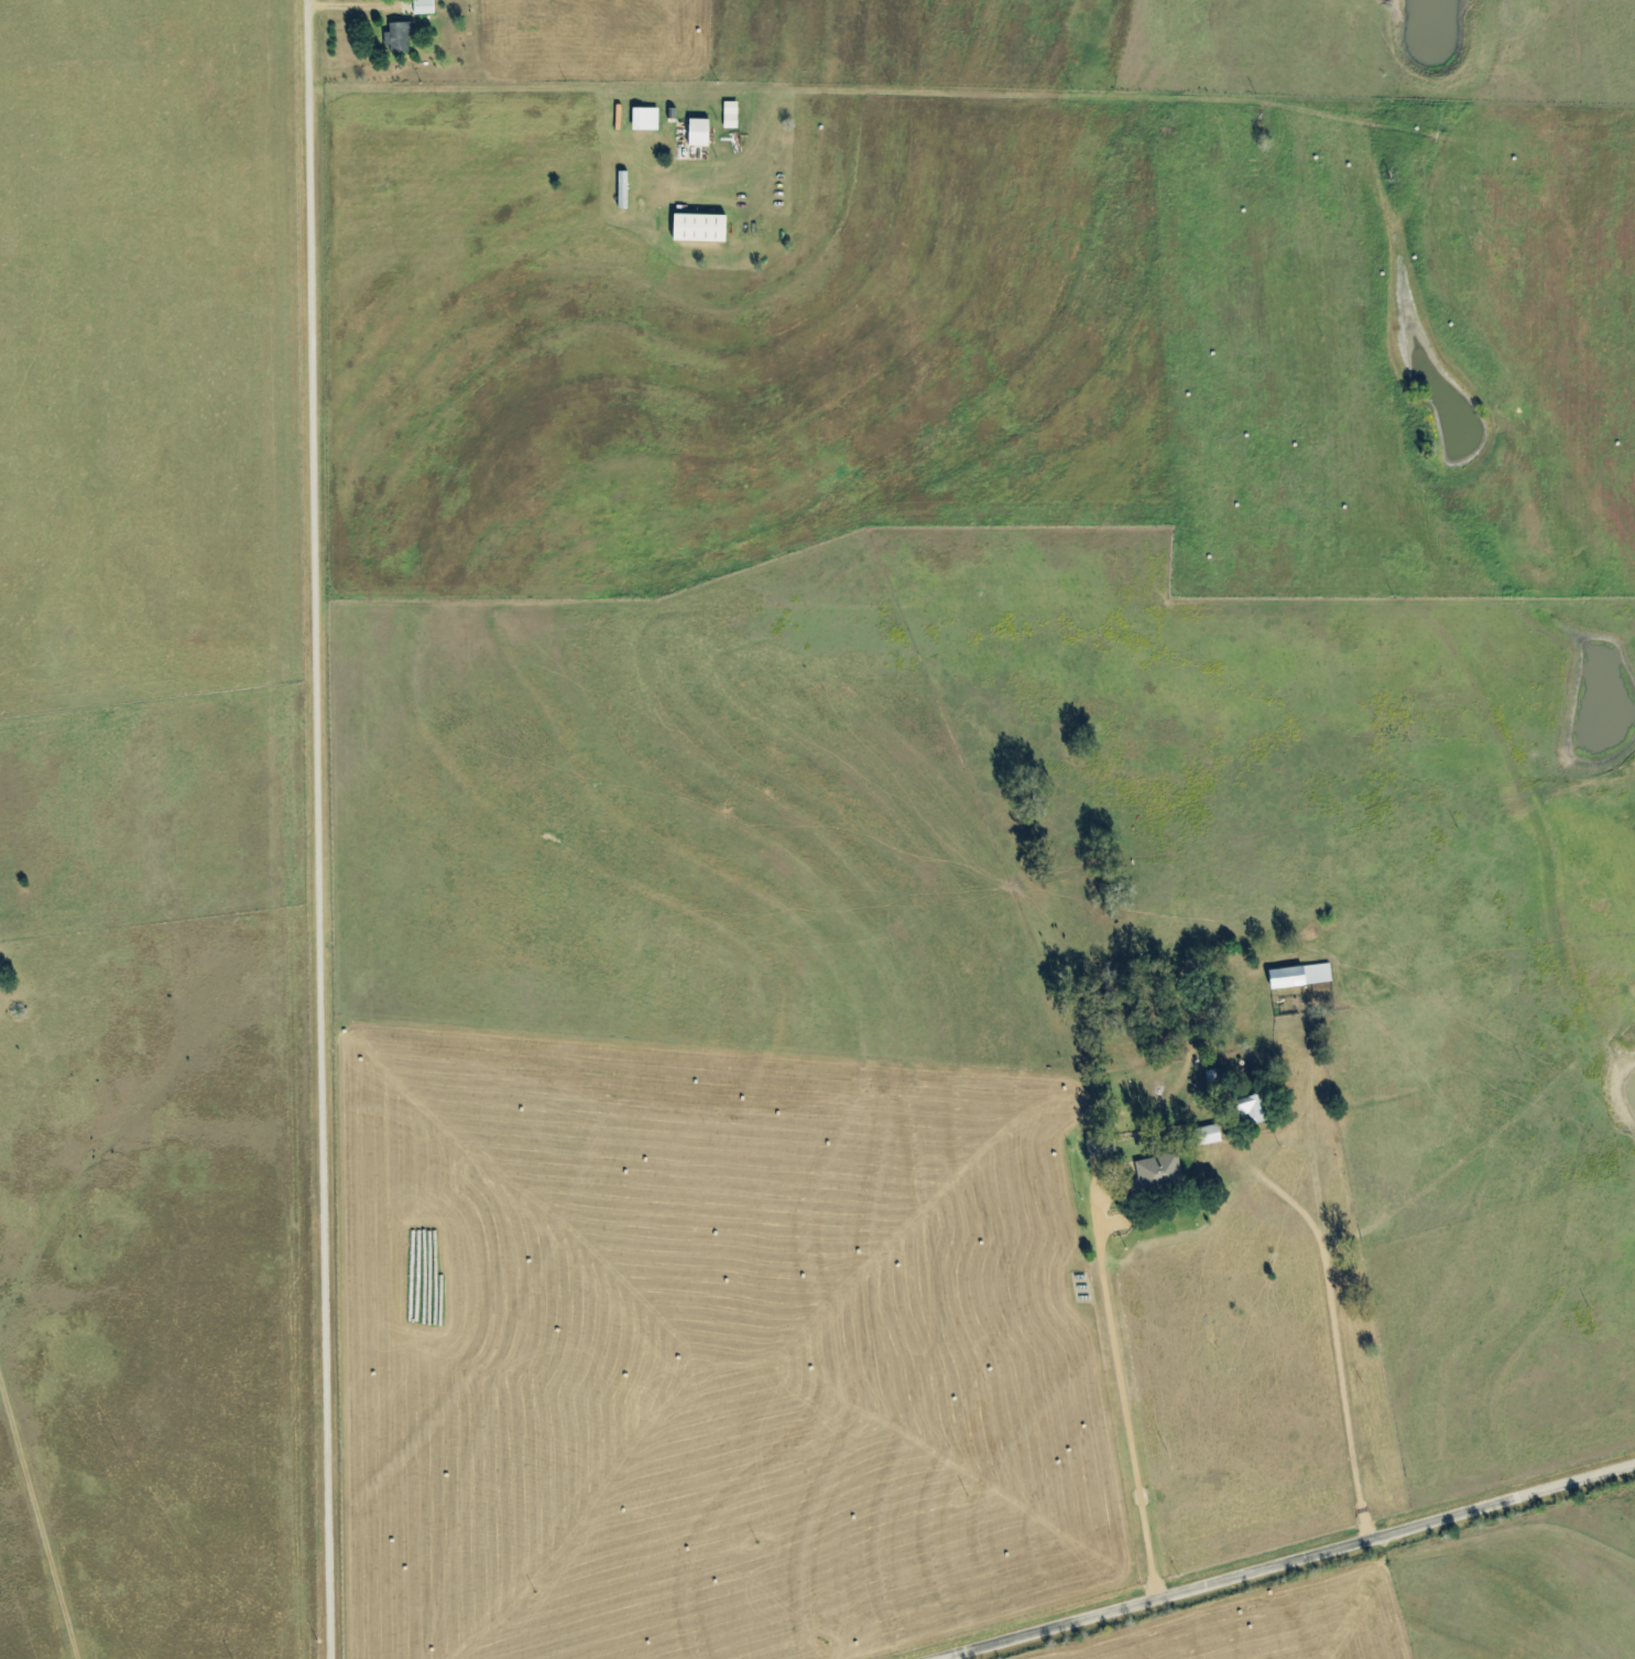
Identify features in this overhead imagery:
building: (424, 7)
building: (399, 37)
building: (646, 118)
building: (699, 132)
building: (623, 189)
building: (700, 228)
road: (324, 829)
building: (1300, 975)
road: (906, 1098)
building: (1253, 1108)
building: (1160, 1169)
road: (1340, 1338)
road: (40, 1527)
road: (1283, 1560)

